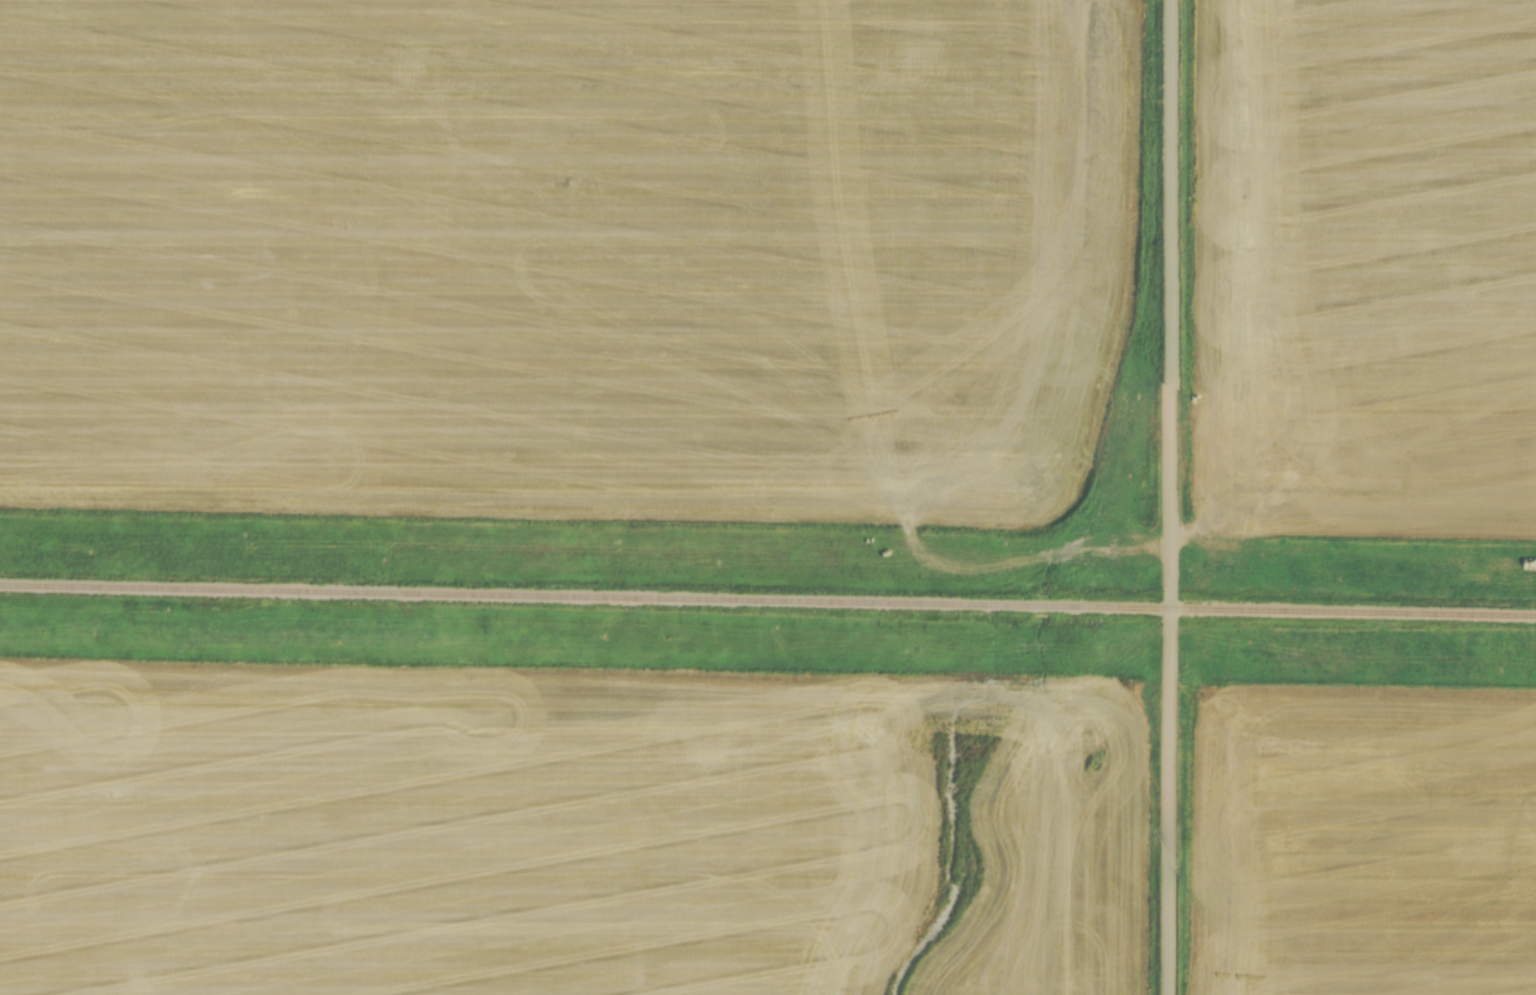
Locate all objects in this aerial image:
road: (1166, 497)
railway: (767, 602)

